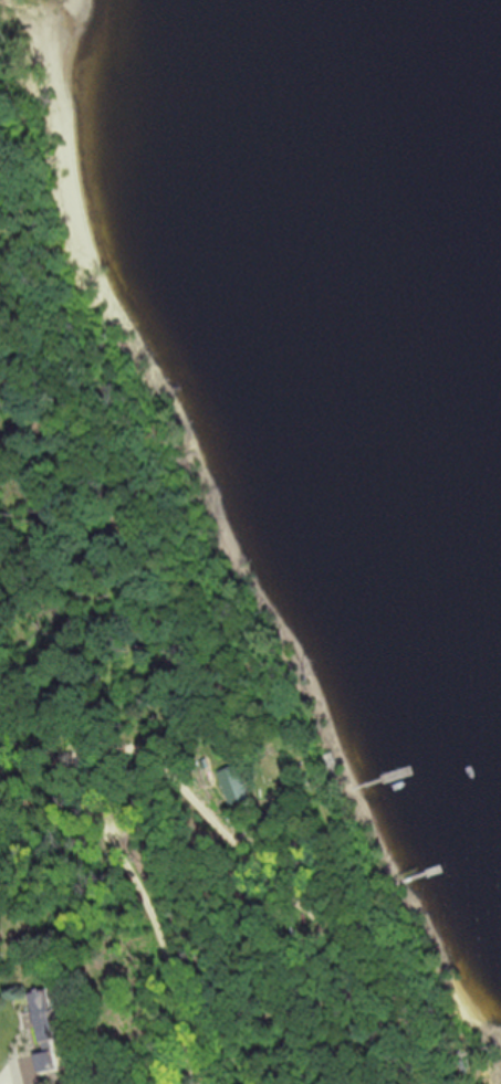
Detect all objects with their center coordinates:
building: (237, 785)
road: (84, 803)
road: (17, 1061)
building: (53, 1062)

